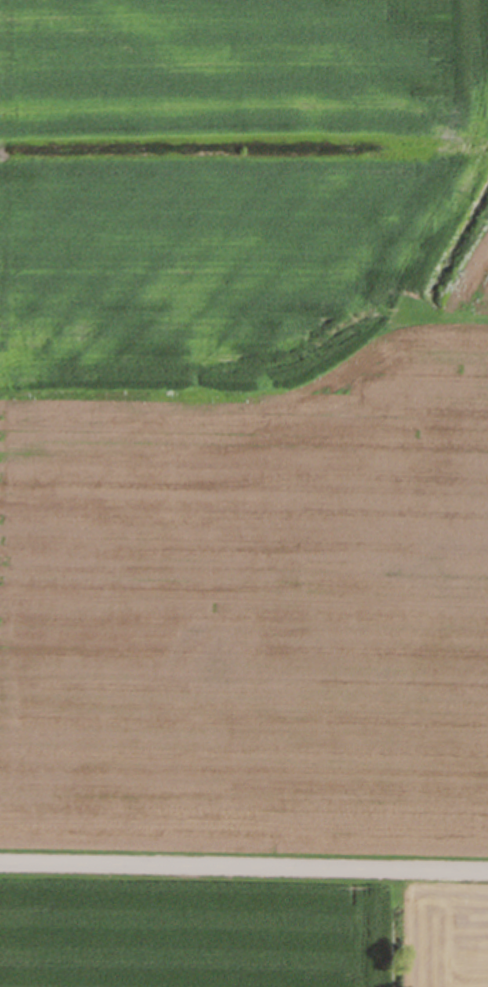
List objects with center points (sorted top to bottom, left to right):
crop: (244, 419)
road: (244, 871)

